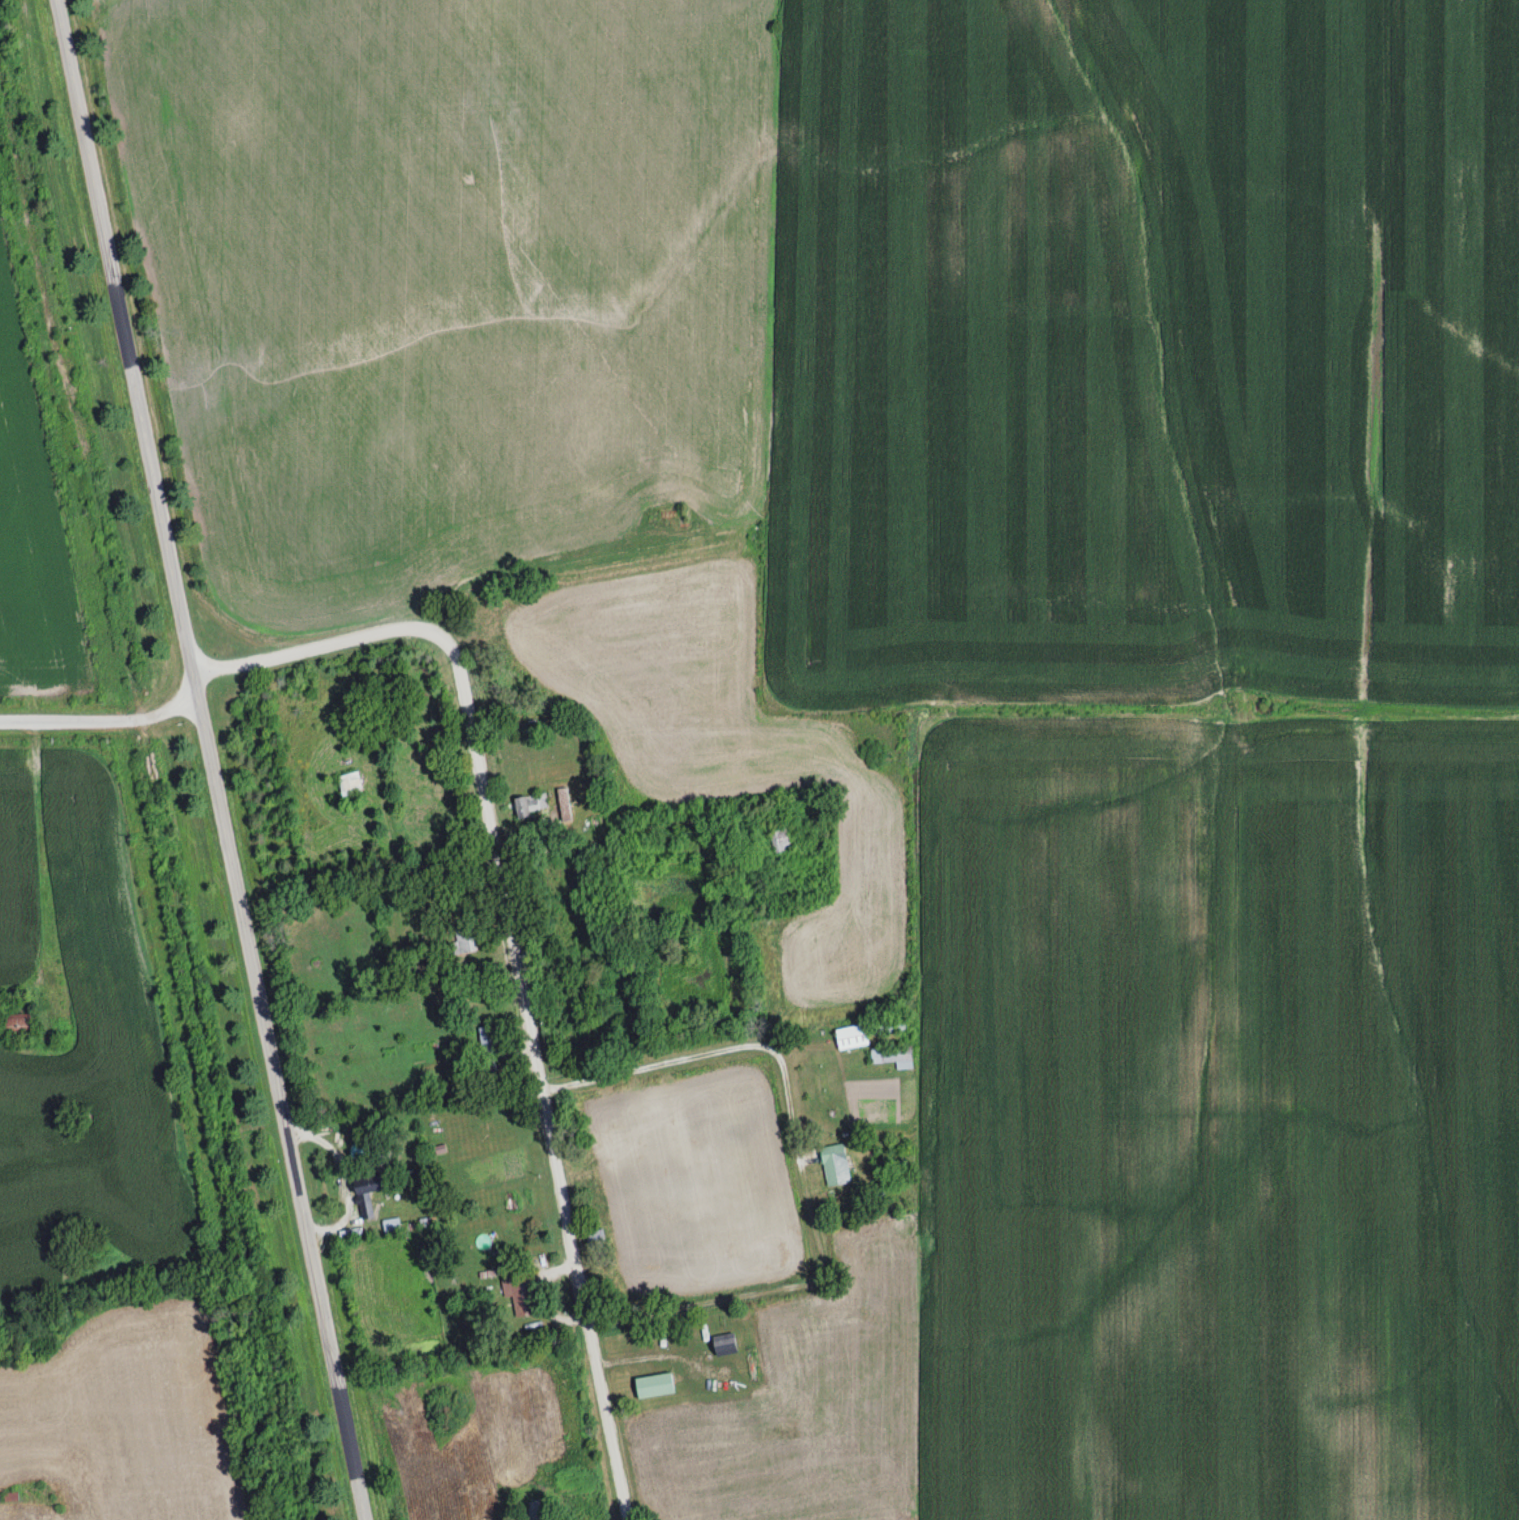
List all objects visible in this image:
road: (107, 724)
road: (211, 759)
building: (349, 783)
building: (530, 803)
building: (777, 840)
building: (464, 938)
road: (513, 952)
building: (17, 1018)
building: (891, 1026)
road: (773, 1030)
building: (851, 1036)
building: (486, 1048)
building: (889, 1056)
road: (657, 1069)
building: (378, 1157)
building: (834, 1164)
building: (363, 1198)
building: (391, 1226)
building: (594, 1240)
building: (521, 1295)
building: (724, 1343)
building: (653, 1385)
road: (777, 1503)

